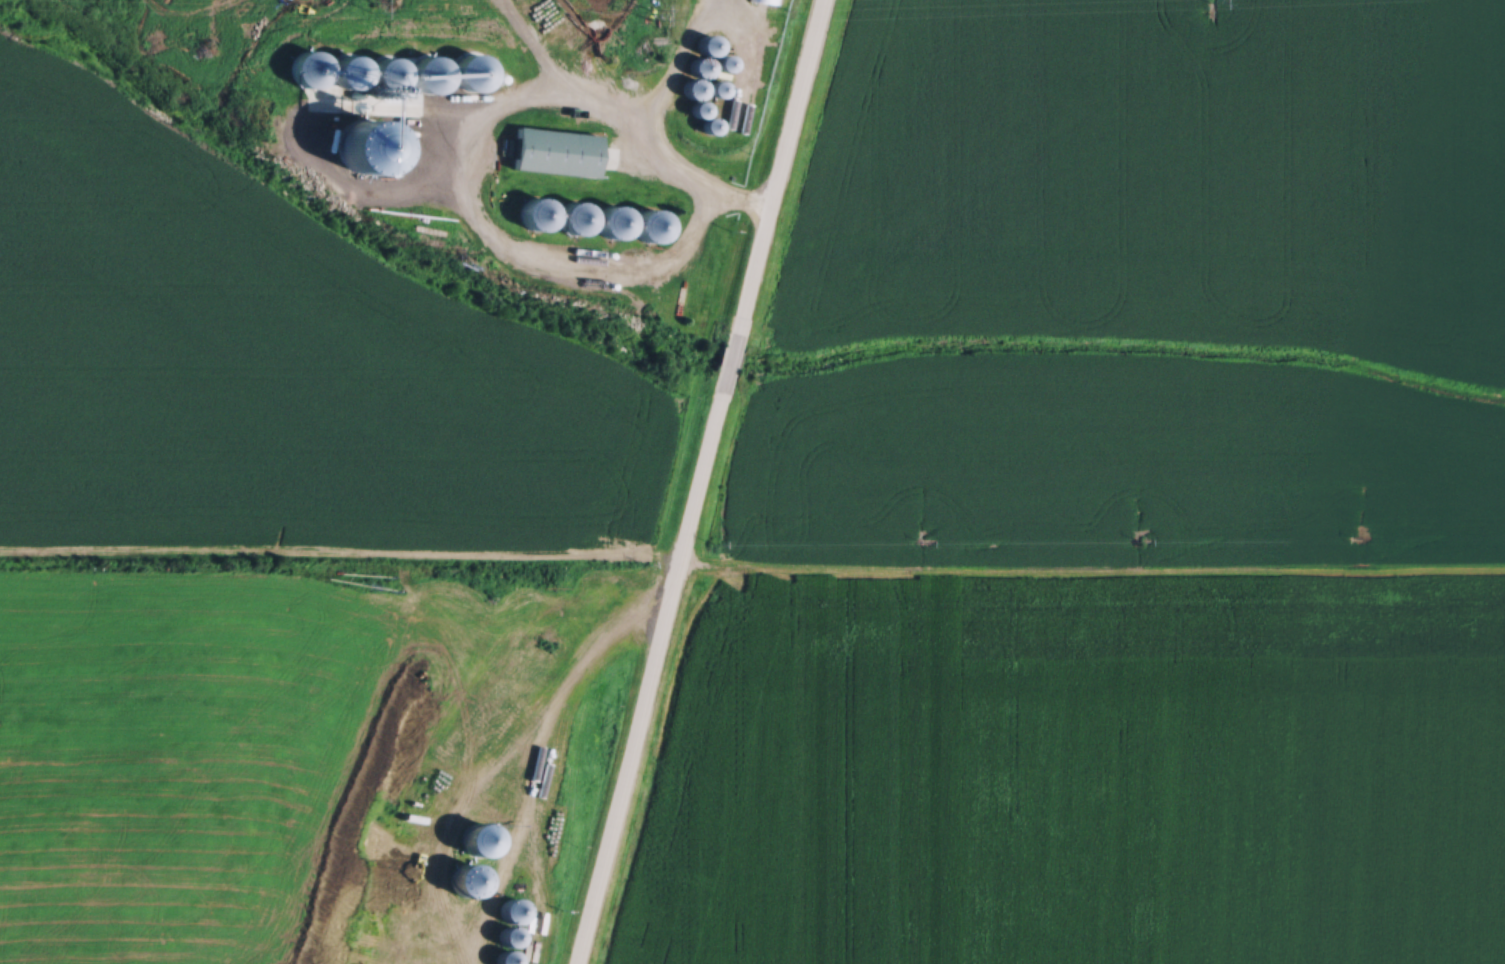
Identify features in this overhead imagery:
building: (773, 0)
power tower: (370, 3)
power tower: (644, 6)
building: (311, 66)
building: (350, 69)
building: (472, 69)
building: (389, 71)
building: (431, 71)
building: (695, 84)
building: (718, 85)
road: (651, 134)
building: (556, 149)
road: (780, 176)
building: (539, 212)
building: (576, 216)
building: (615, 220)
building: (653, 224)
road: (731, 363)
road: (655, 669)
building: (512, 905)
building: (510, 931)
building: (506, 954)

